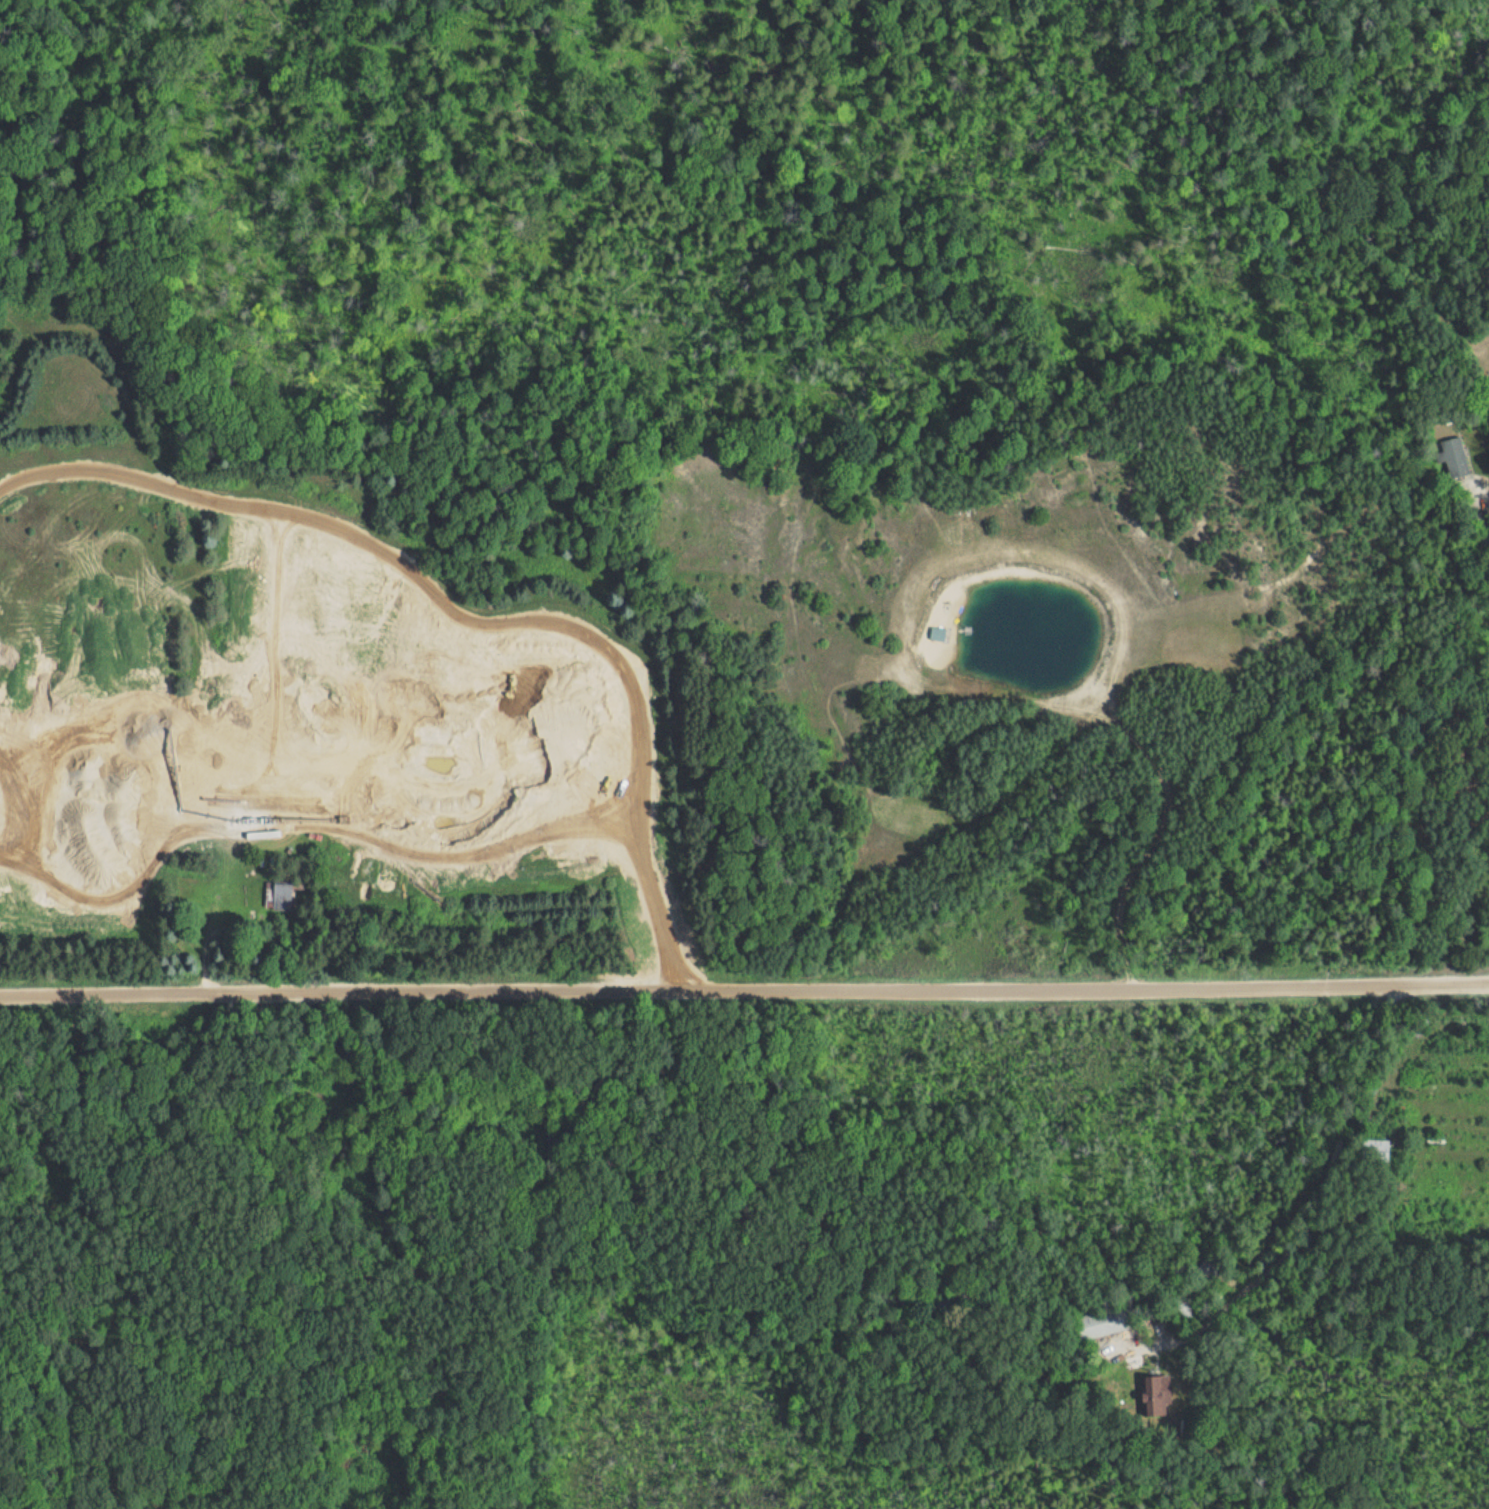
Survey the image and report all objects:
building: (1455, 457)
building: (937, 633)
building: (280, 895)
road: (744, 990)
building: (1376, 1148)
road: (1323, 1189)
building: (1107, 1321)
building: (1153, 1399)

